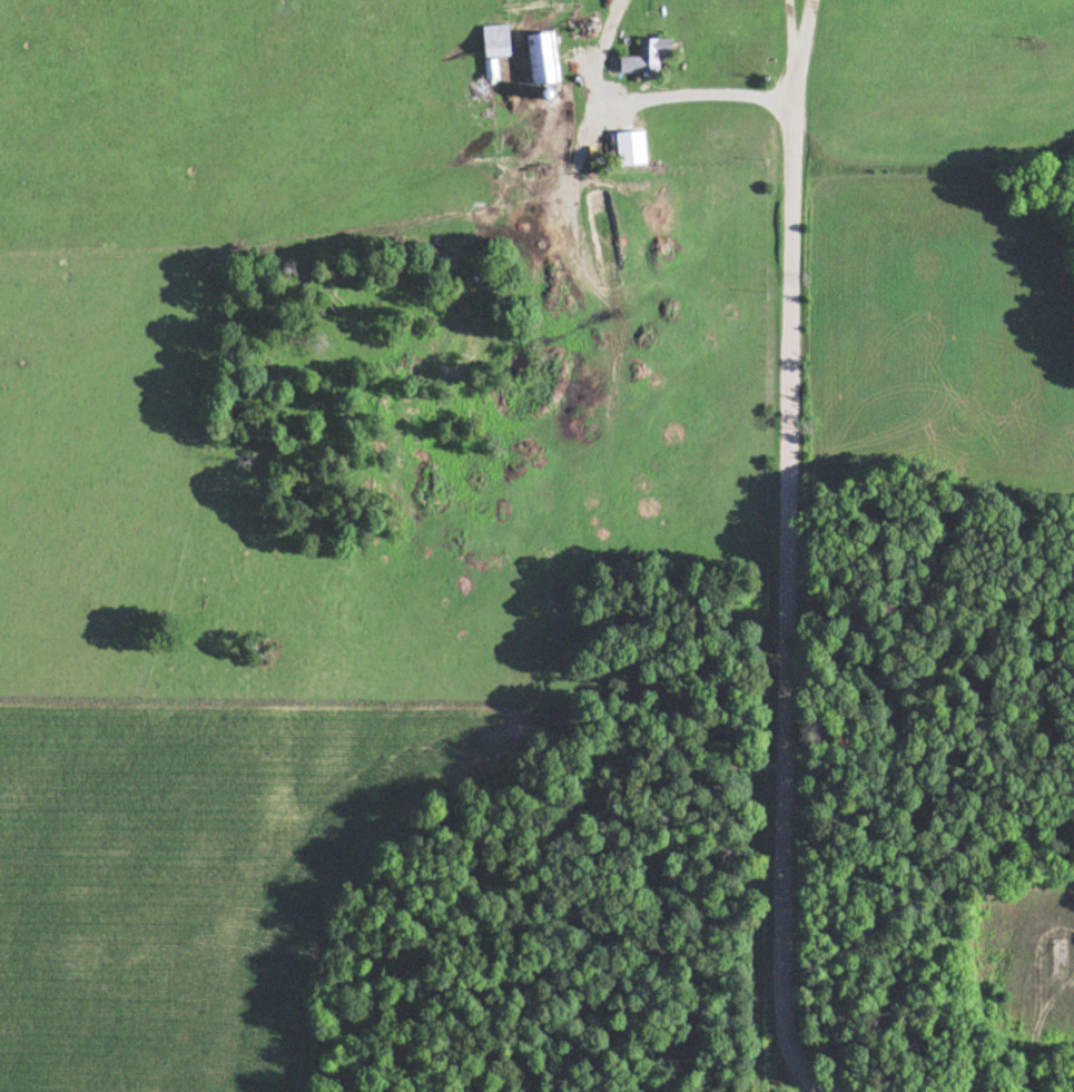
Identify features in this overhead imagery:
building: (495, 37)
road: (798, 48)
building: (543, 55)
building: (646, 56)
building: (489, 67)
road: (667, 90)
building: (630, 145)
road: (784, 602)
road: (789, 1082)

